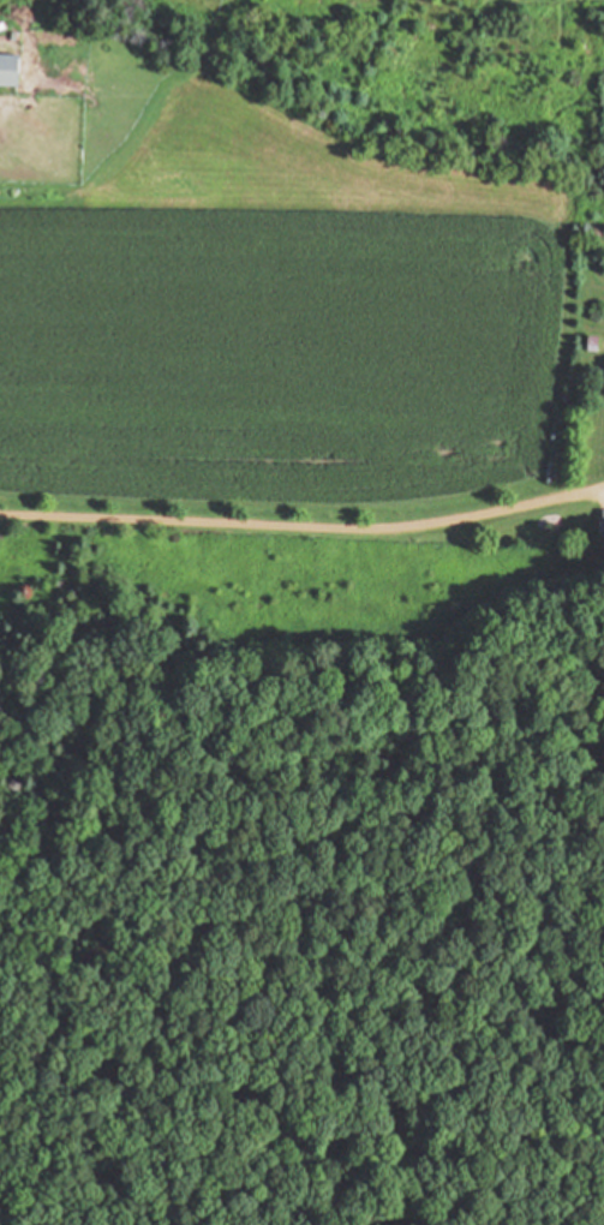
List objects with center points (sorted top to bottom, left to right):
building: (8, 71)
building: (603, 525)

